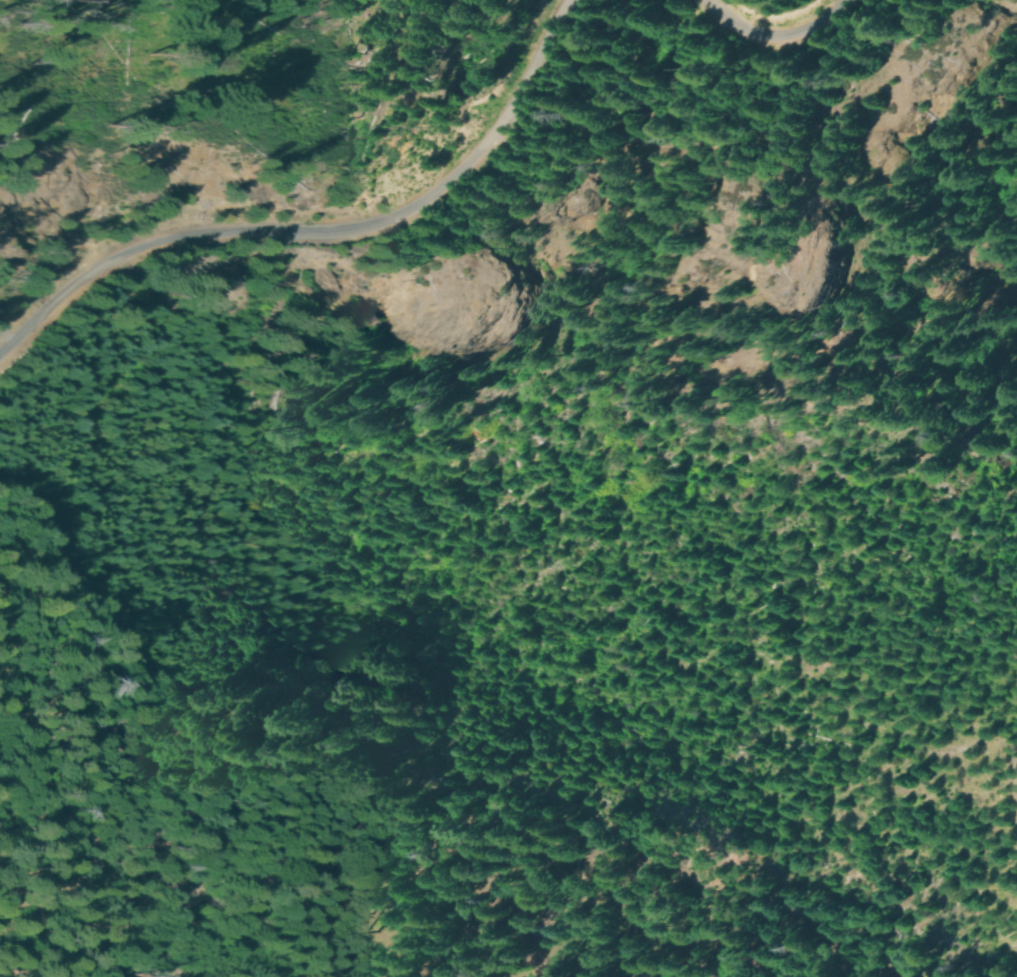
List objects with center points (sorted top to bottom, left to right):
road: (785, 30)
road: (314, 224)

